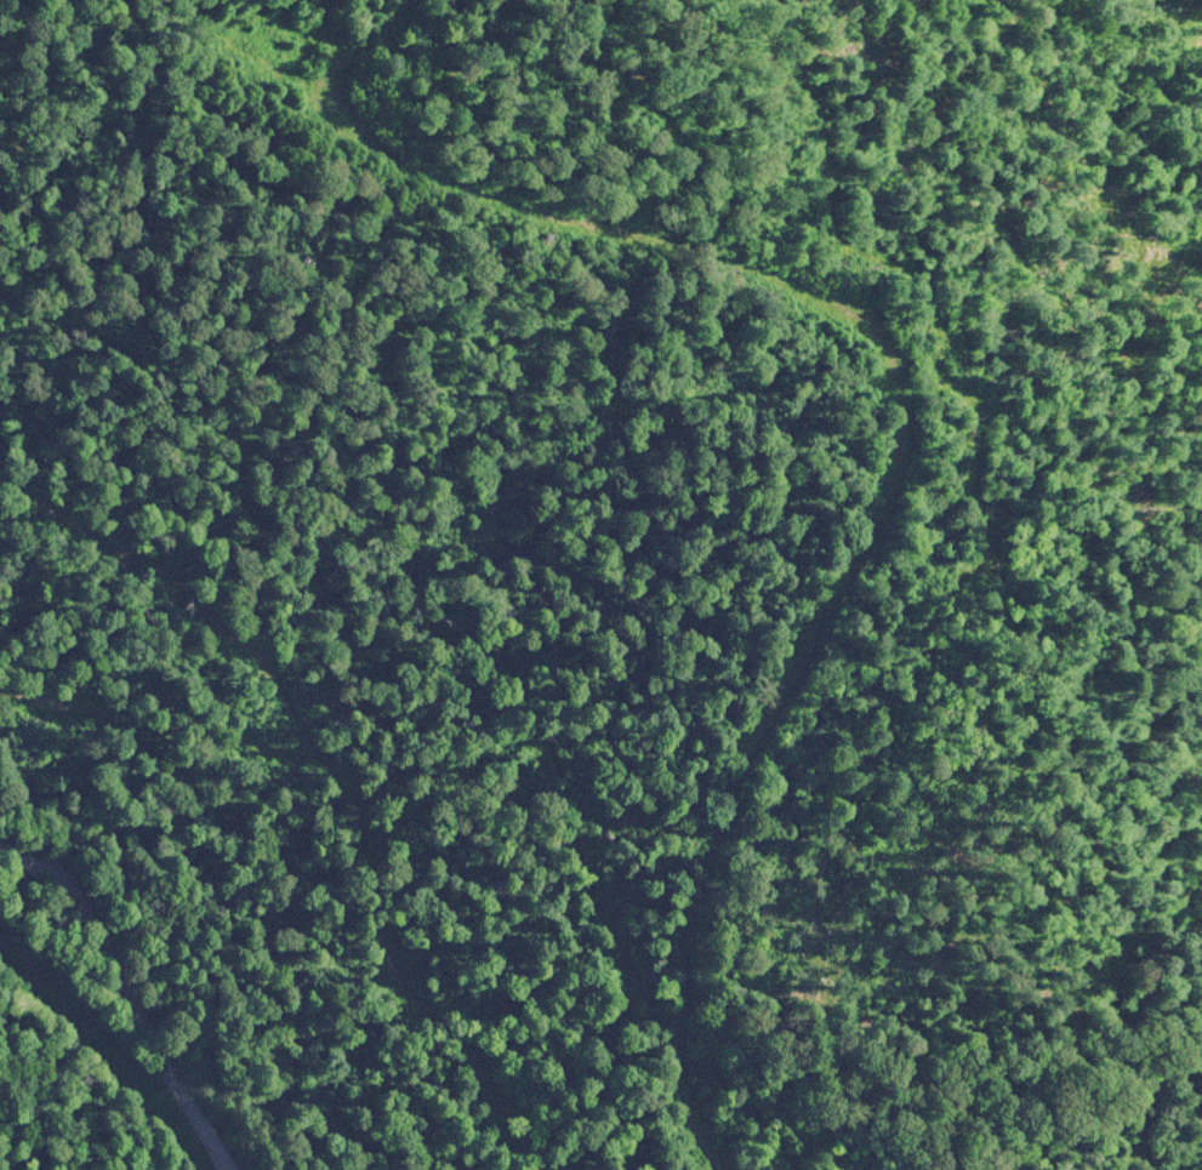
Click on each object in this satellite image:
road: (127, 991)

